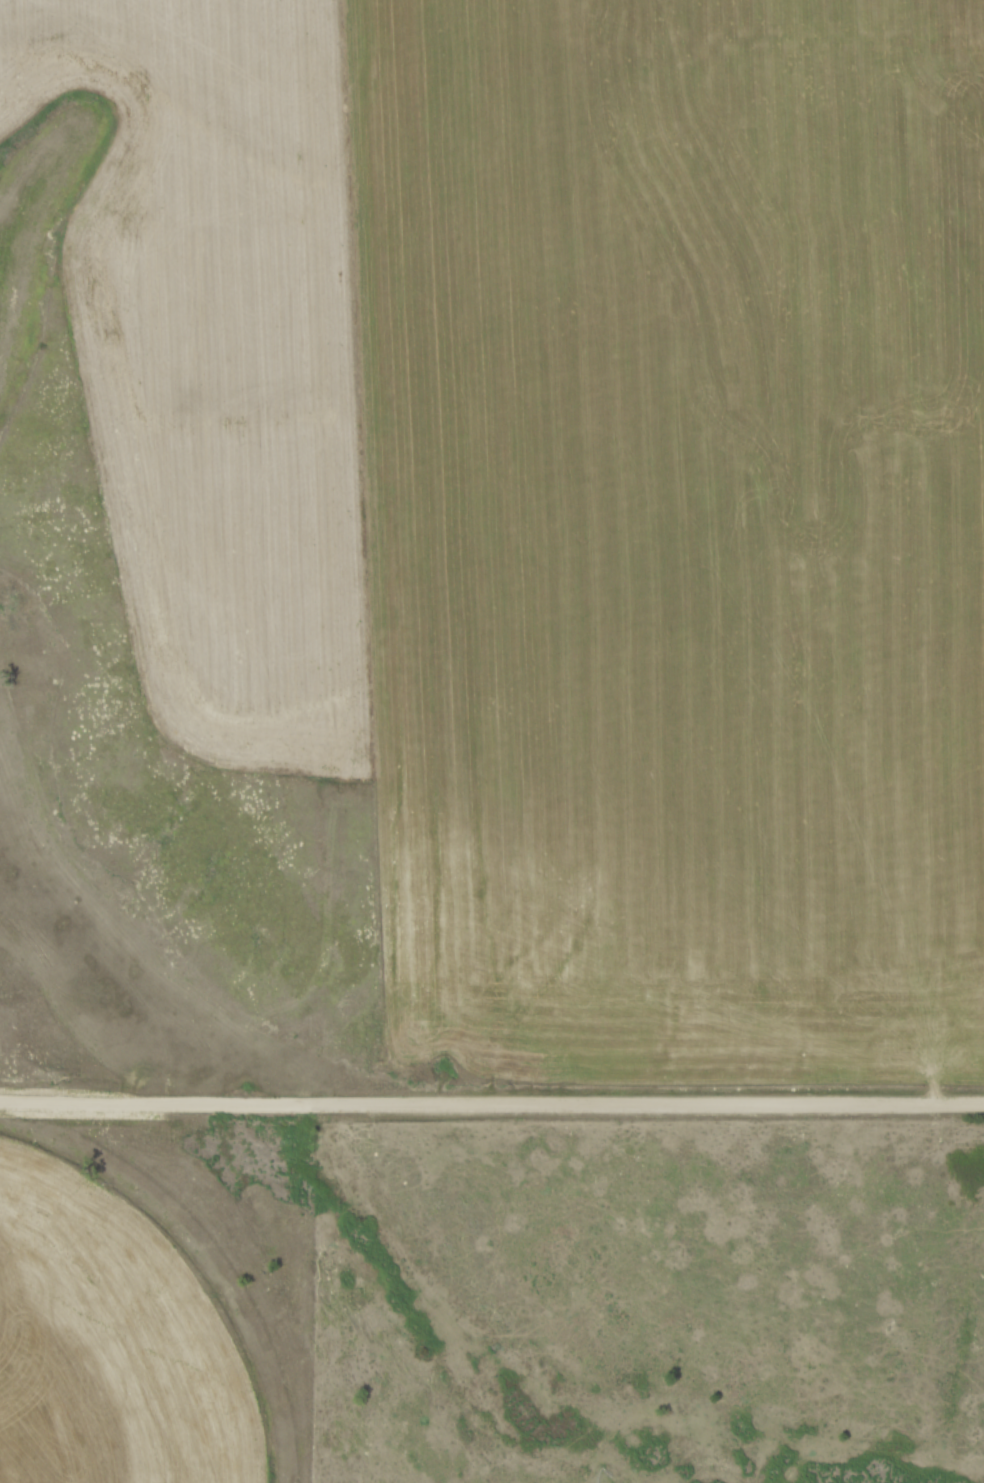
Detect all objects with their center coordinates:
road: (491, 1109)

